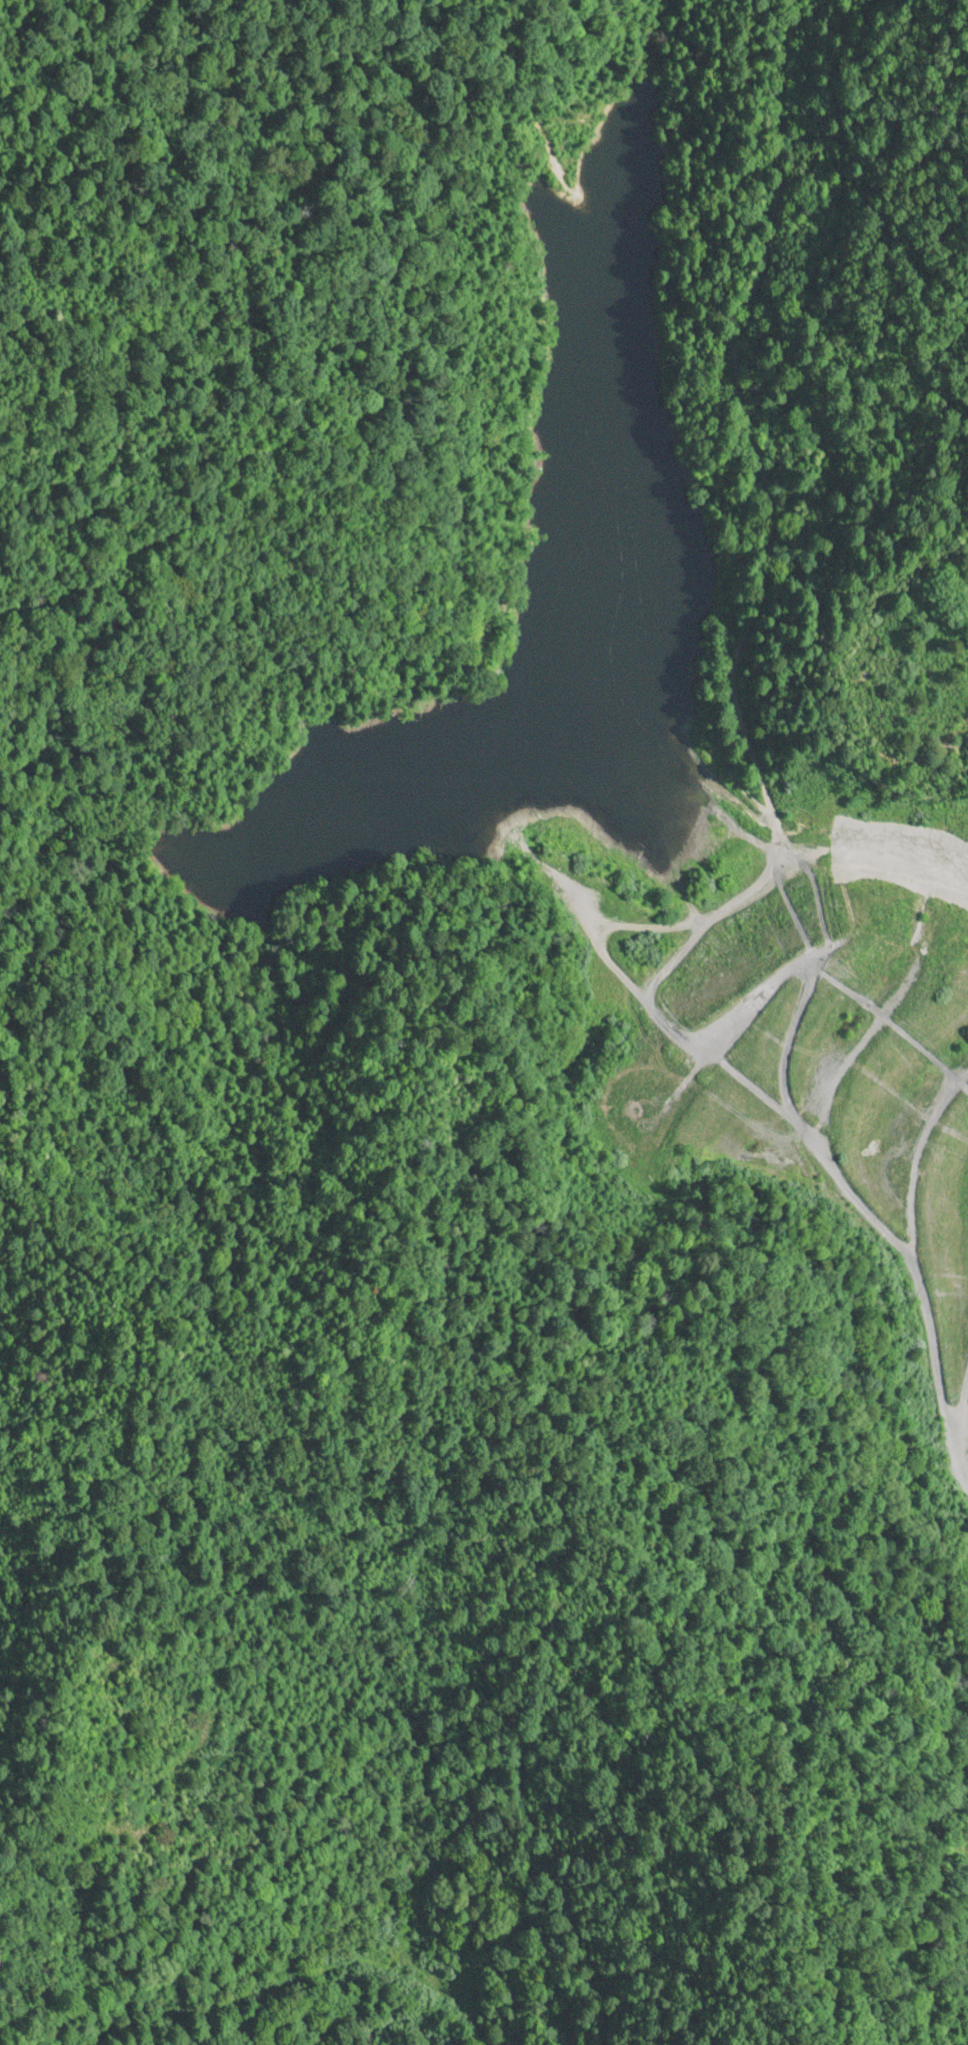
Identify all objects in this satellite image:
road: (241, 319)
road: (549, 925)

